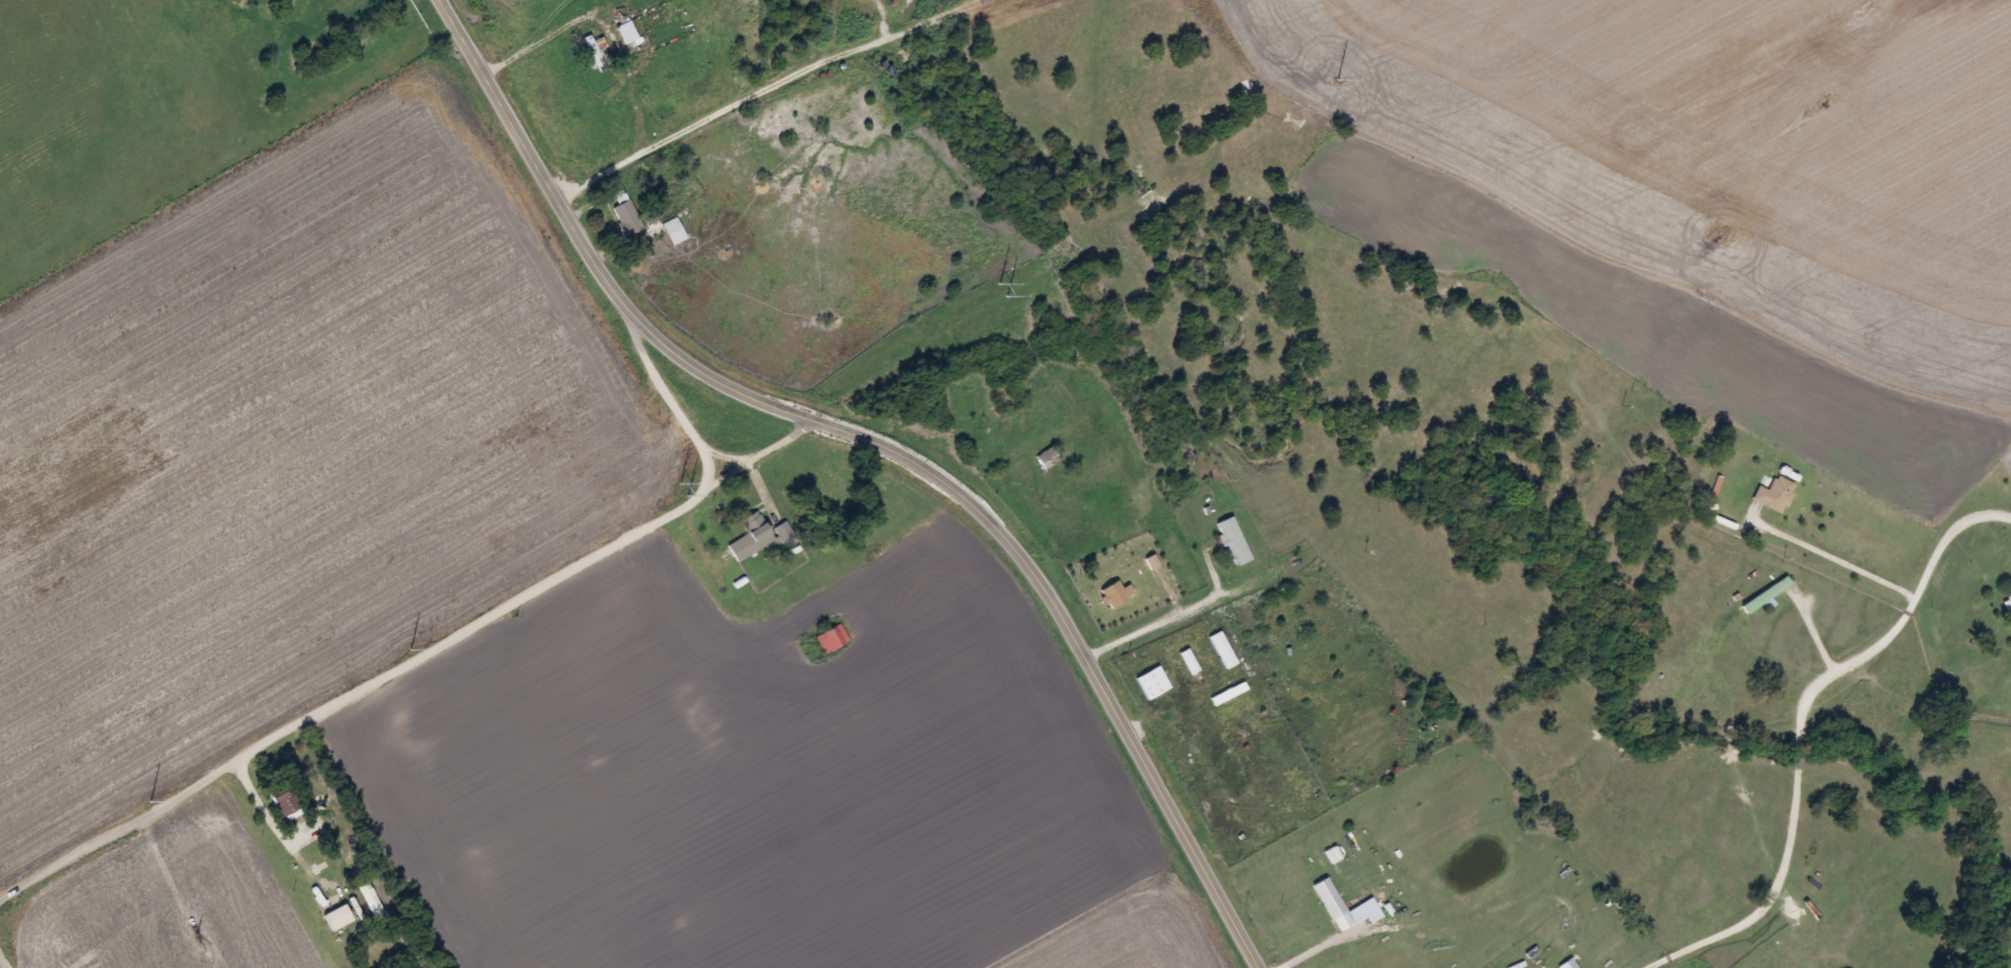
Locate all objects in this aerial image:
building: (312, 1)
building: (628, 33)
building: (595, 53)
road: (746, 91)
building: (628, 217)
building: (656, 228)
road: (651, 377)
road: (890, 439)
road: (752, 449)
road: (722, 451)
building: (1046, 459)
road: (701, 468)
building: (1772, 495)
building: (758, 536)
building: (1229, 542)
building: (1113, 594)
building: (1762, 595)
building: (2006, 606)
road: (1170, 612)
road: (1810, 617)
building: (828, 640)
building: (1219, 650)
building: (1186, 662)
building: (1150, 684)
road: (347, 691)
road: (1798, 724)
building: (1187, 770)
building: (286, 801)
building: (1326, 899)
building: (339, 917)
building: (1563, 963)
road: (2, 964)

